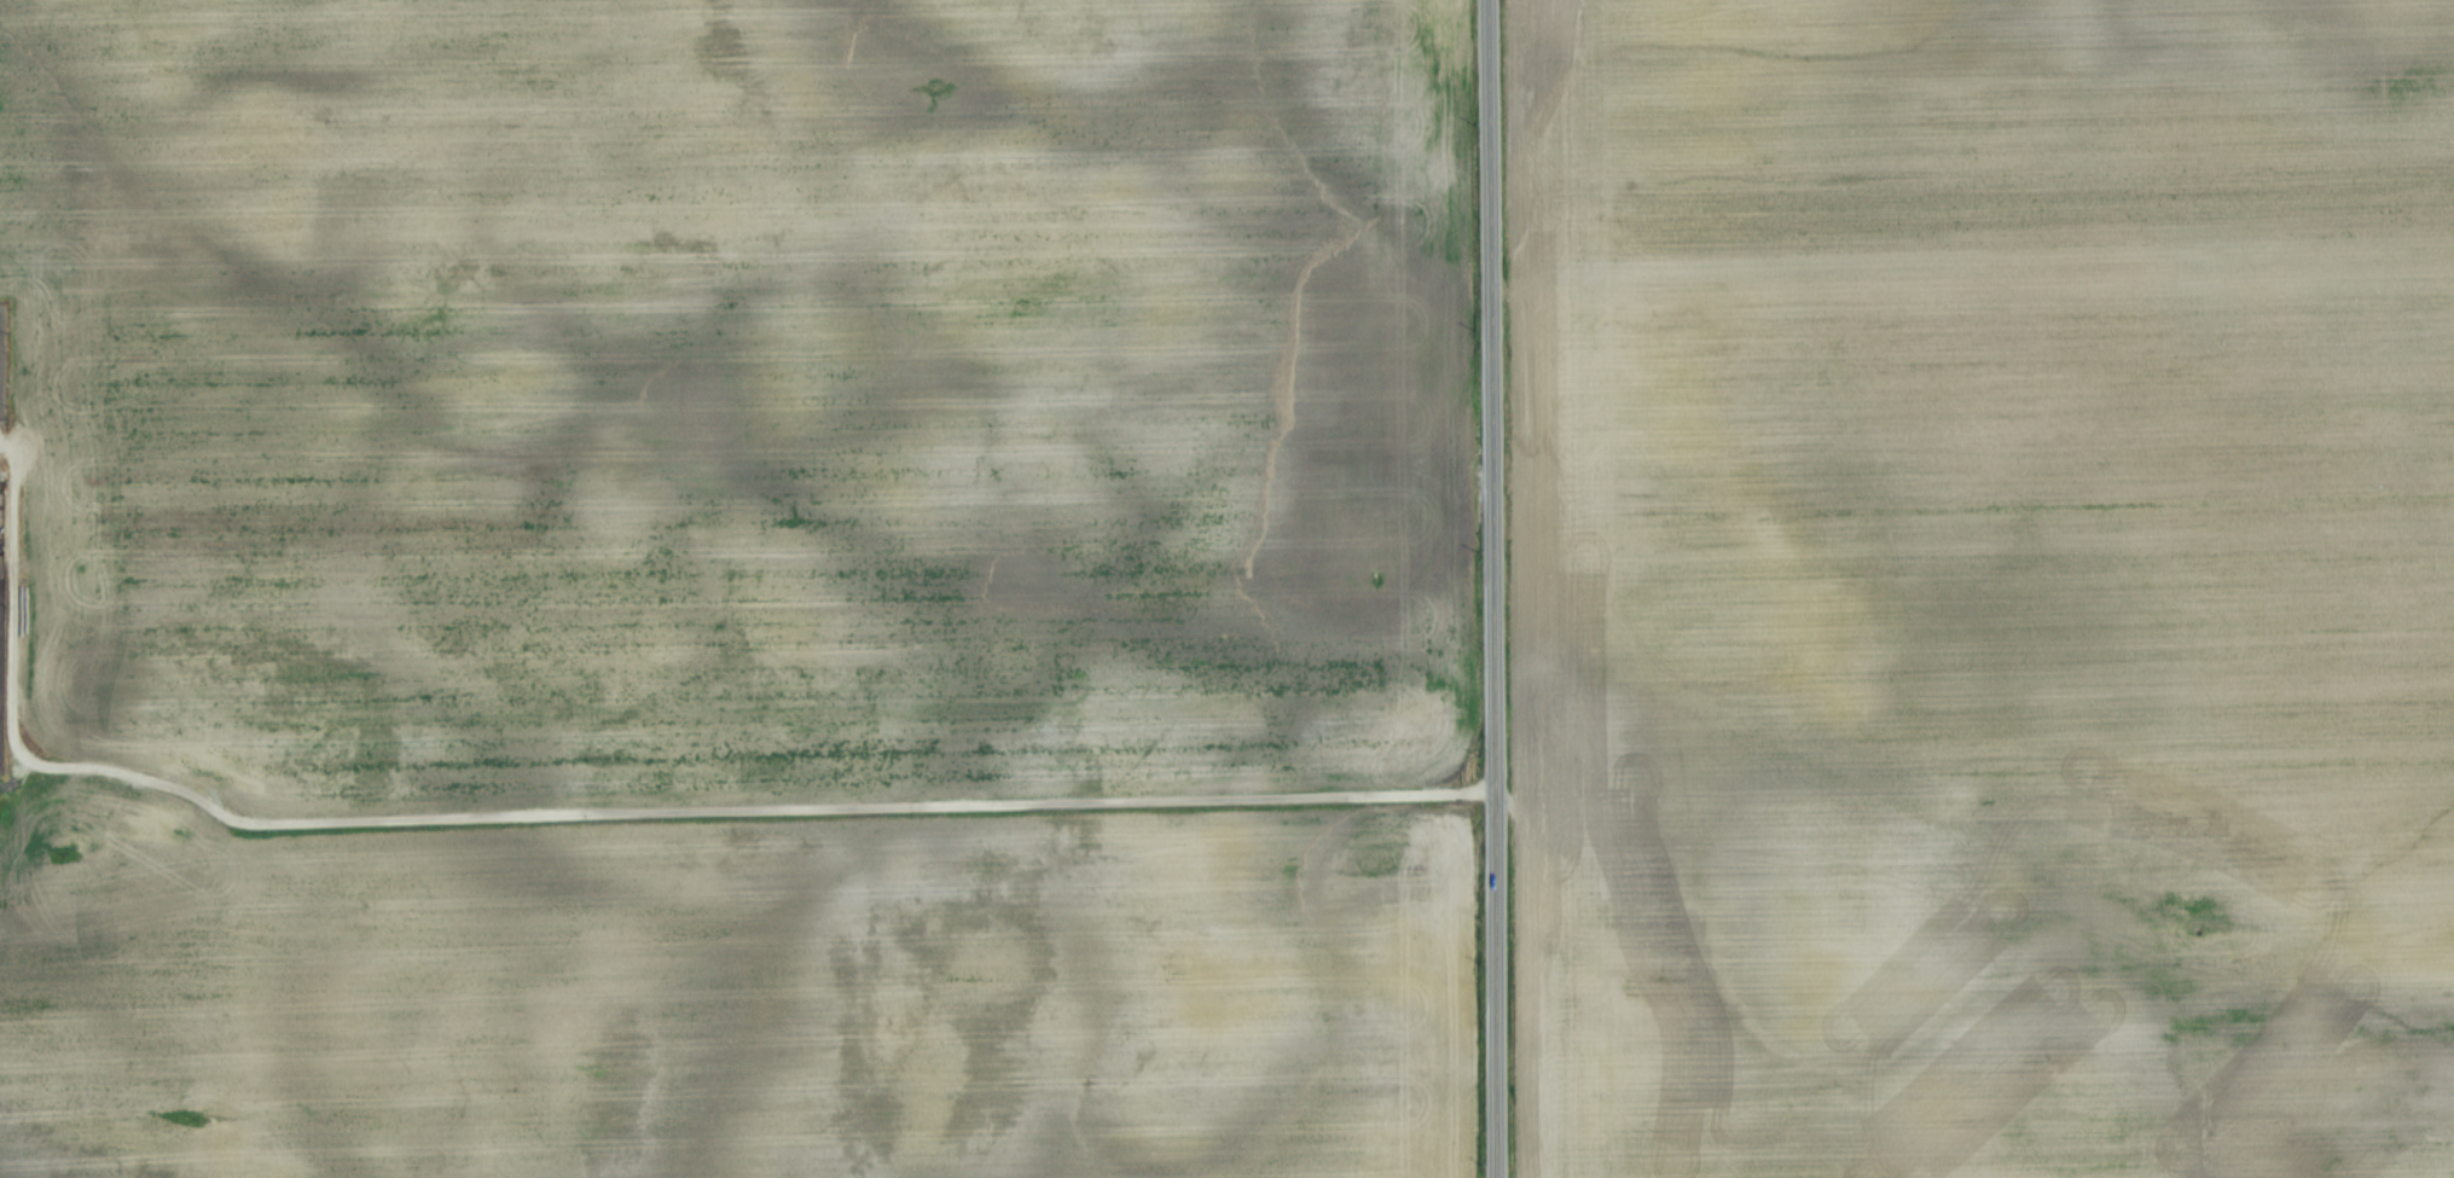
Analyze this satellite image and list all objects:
road: (1495, 588)
road: (547, 812)

